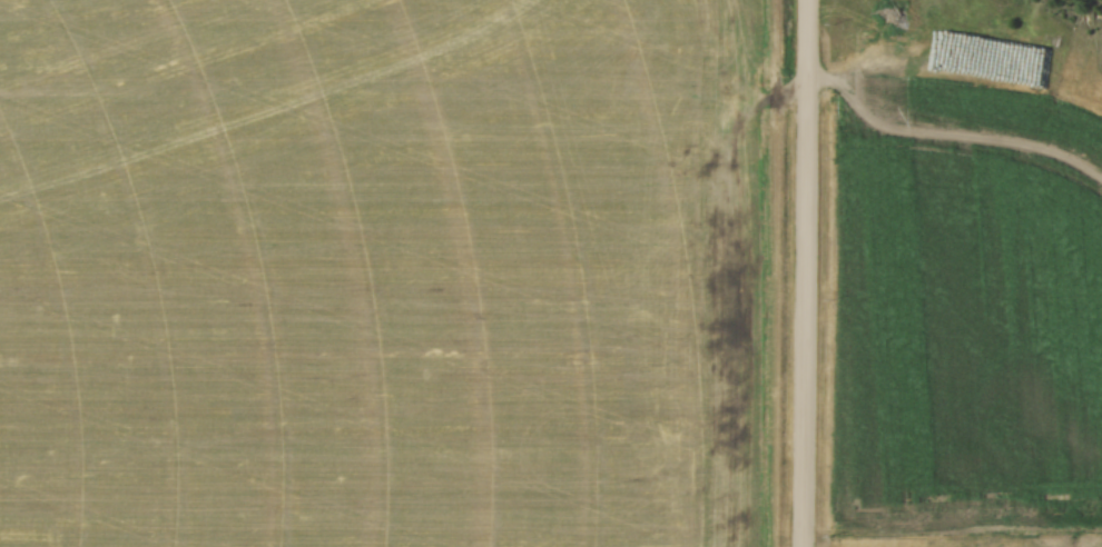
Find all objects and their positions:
road: (805, 273)

